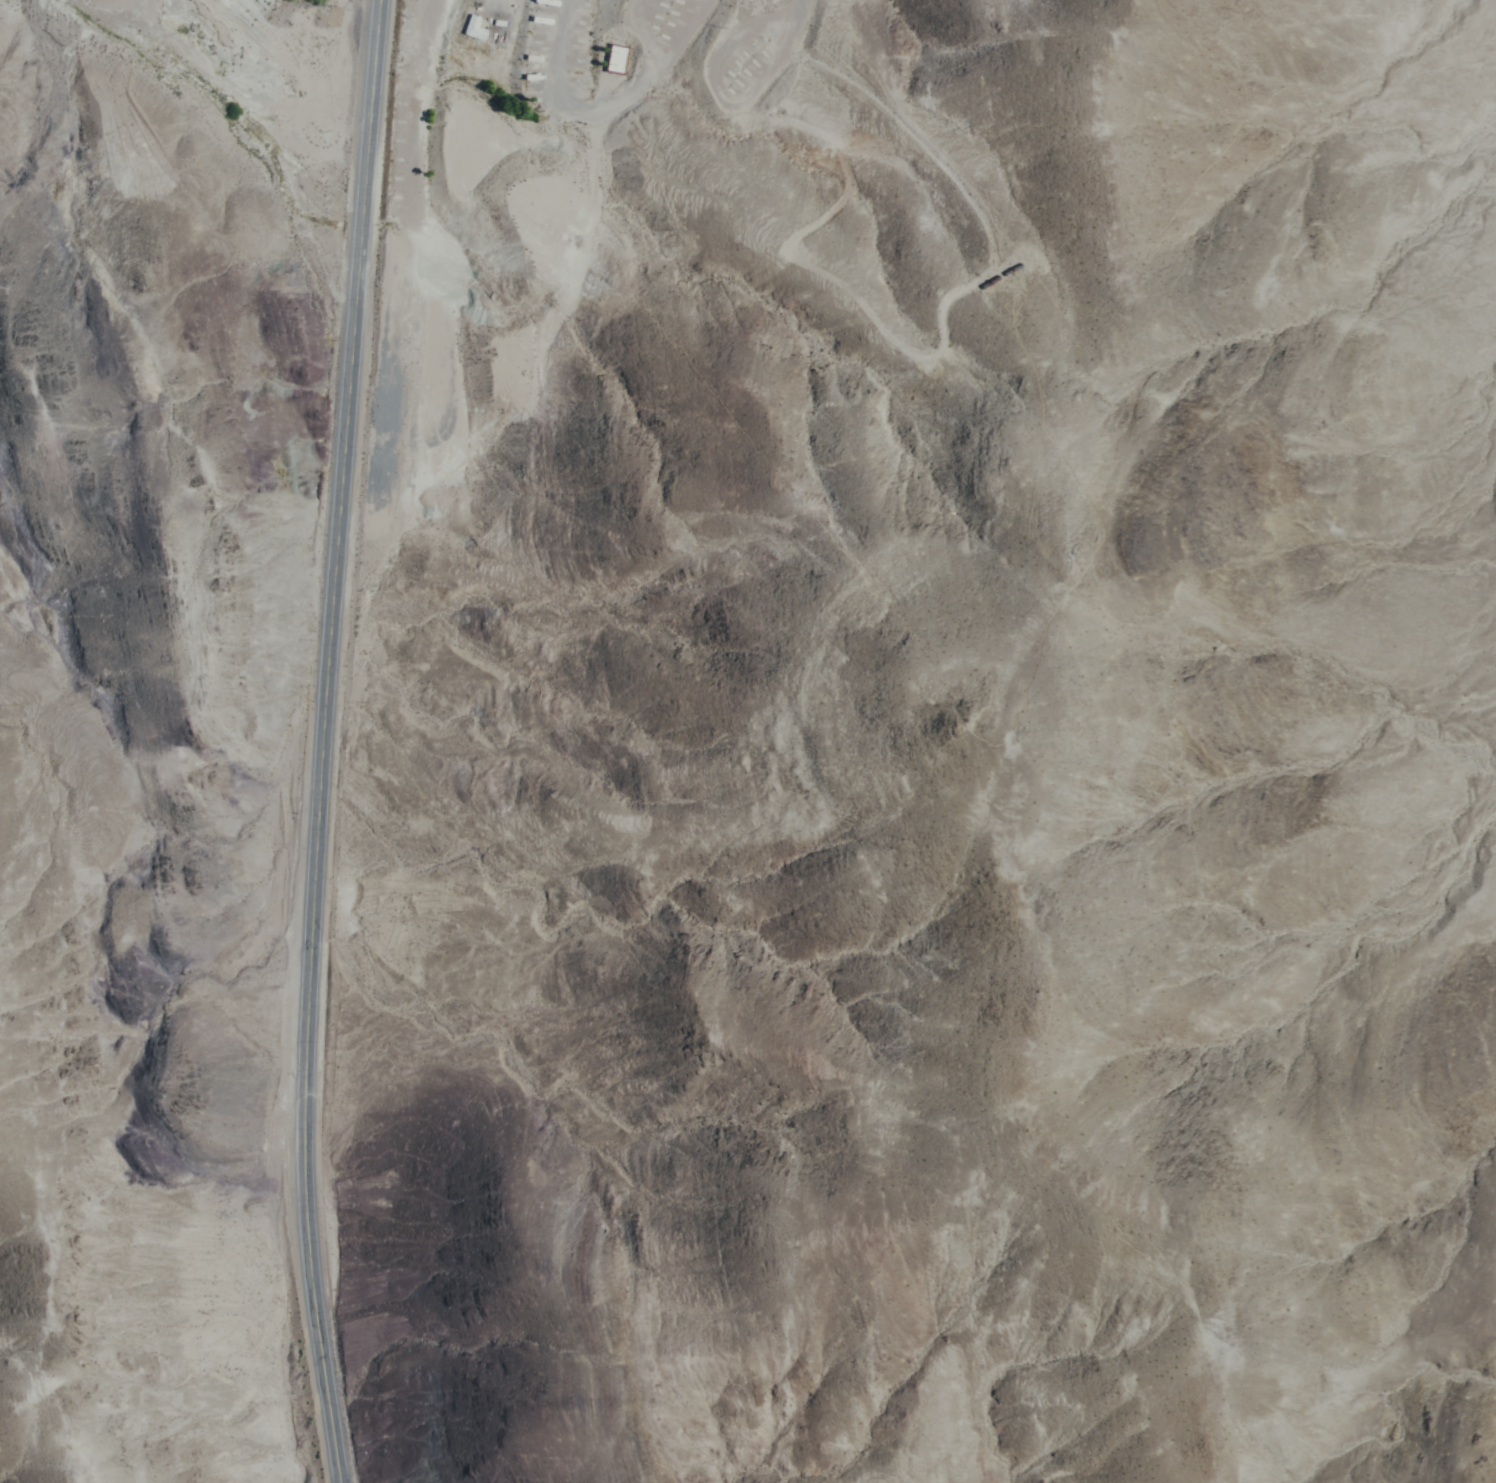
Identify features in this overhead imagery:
road: (427, 18)
building: (475, 27)
road: (679, 55)
building: (615, 59)
road: (212, 71)
road: (559, 87)
road: (842, 204)
building: (1014, 271)
storage tank: (1014, 271)
building: (993, 285)
storage tank: (993, 285)
road: (1088, 506)
road: (324, 741)

